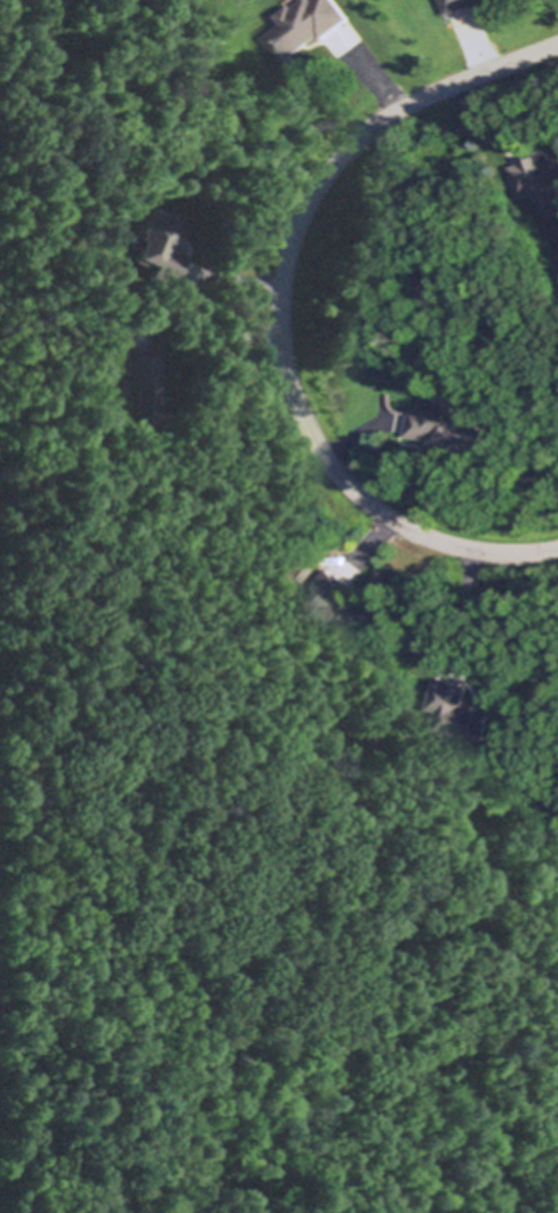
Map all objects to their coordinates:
building: (461, 5)
building: (306, 25)
building: (538, 178)
building: (156, 247)
road: (281, 314)
building: (140, 384)
building: (445, 426)
building: (335, 607)
building: (335, 688)
building: (460, 711)
building: (254, 819)

